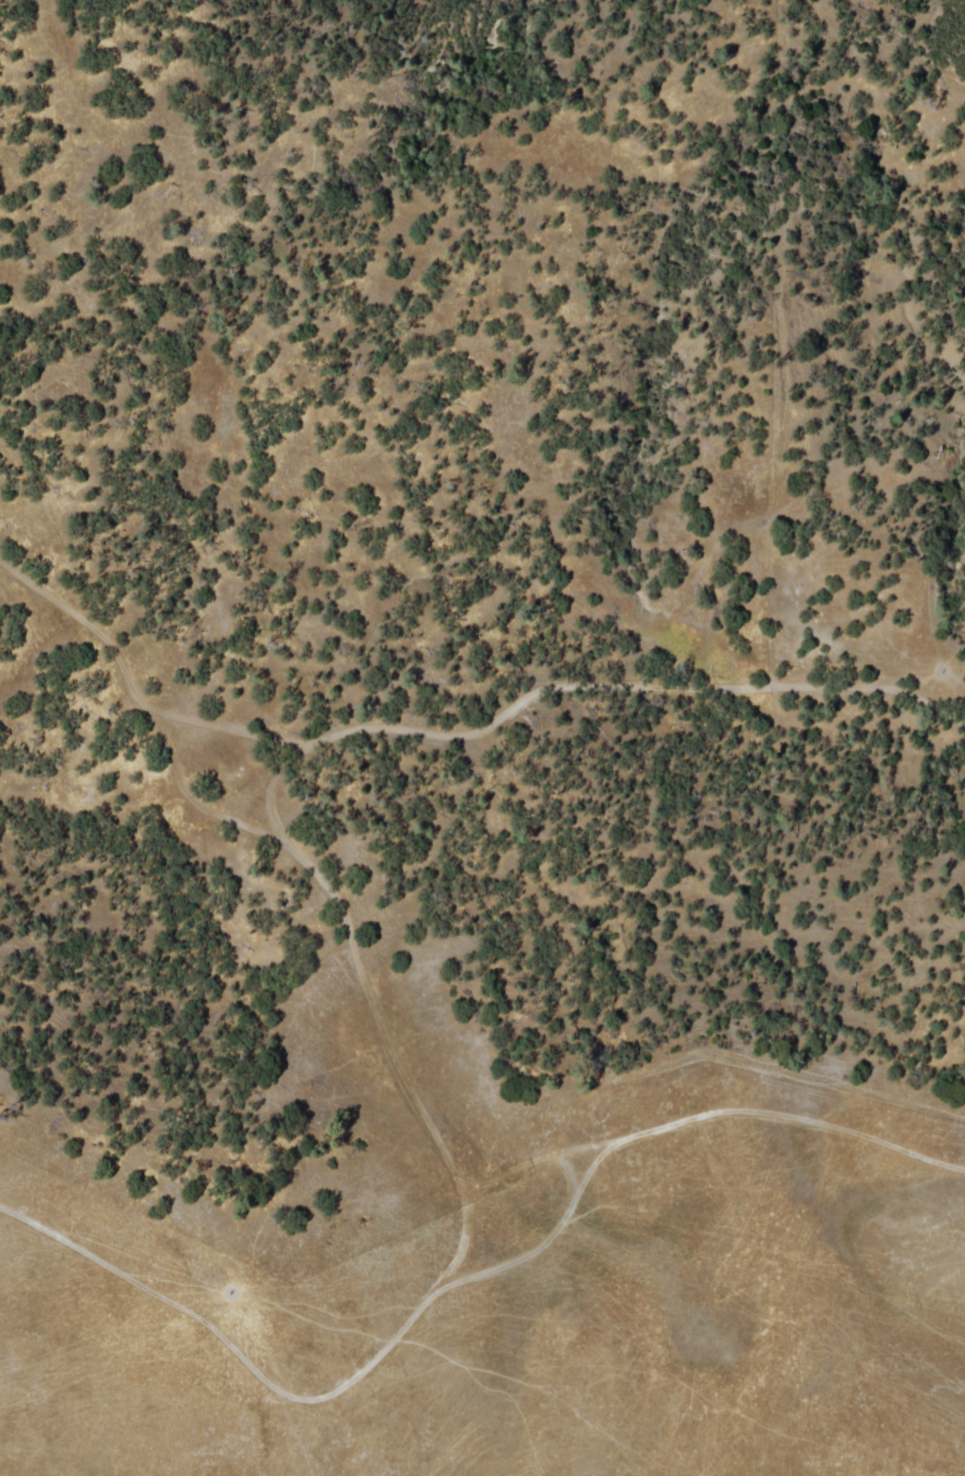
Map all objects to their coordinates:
road: (351, 749)
road: (491, 1266)

